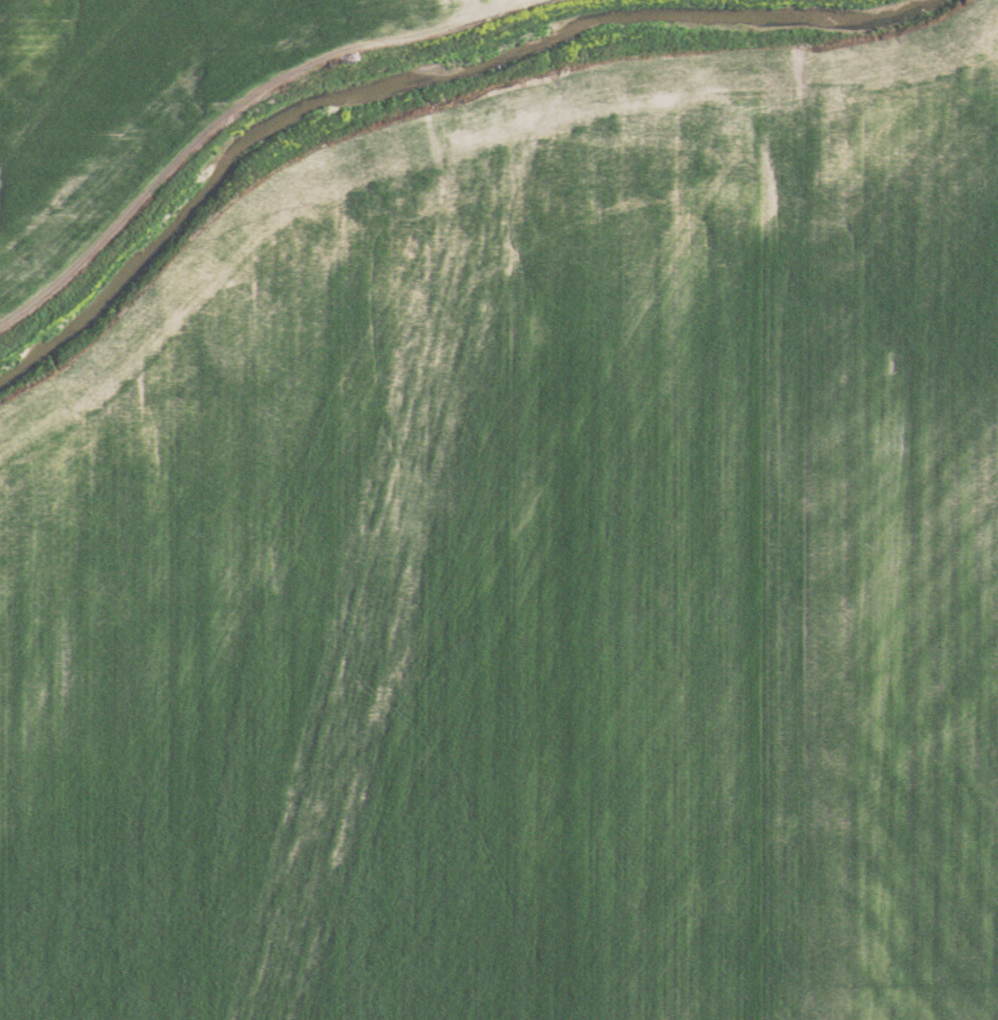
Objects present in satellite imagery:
river: (413, 74)

